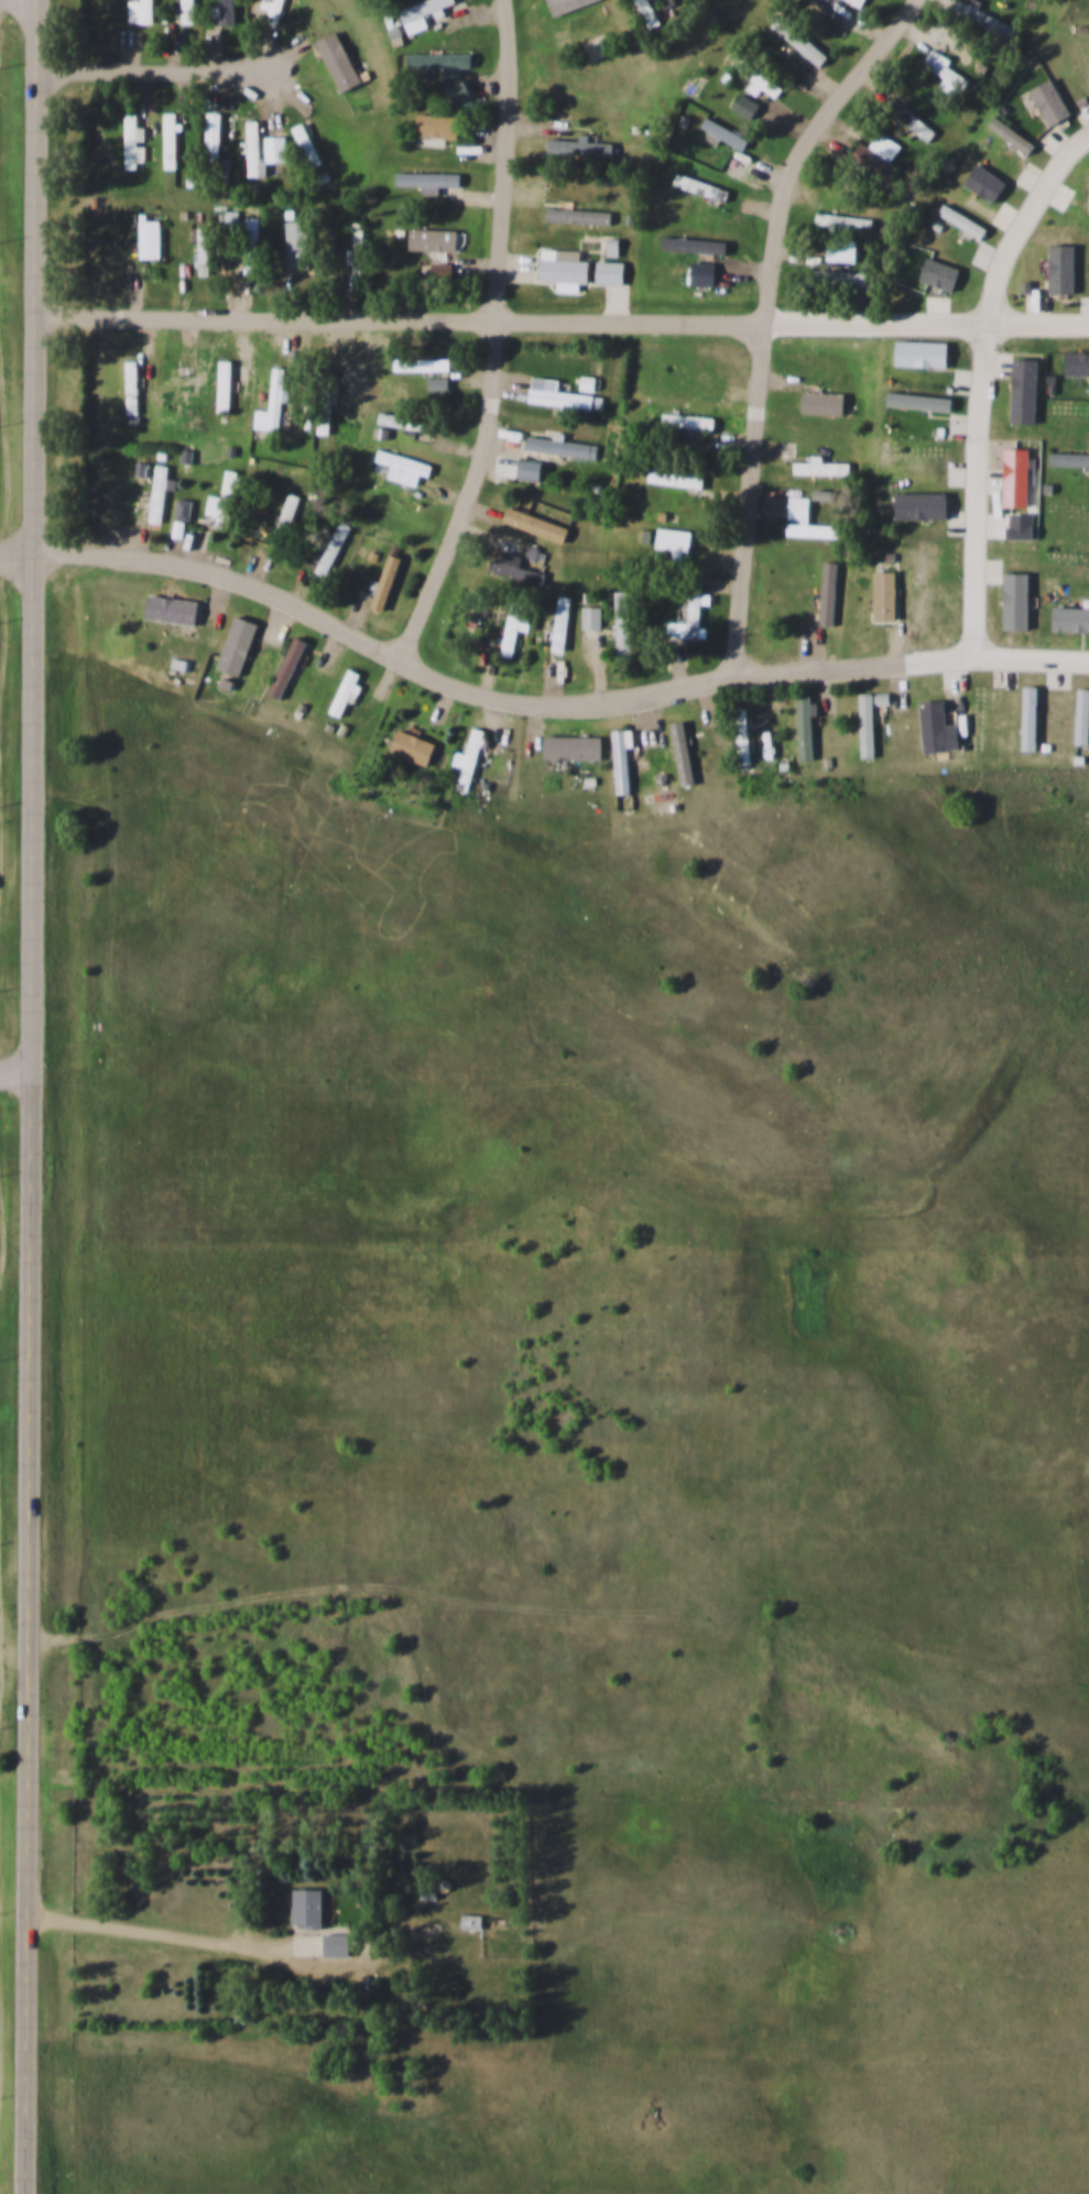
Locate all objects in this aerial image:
building: (859, 2)
building: (568, 4)
building: (142, 11)
building: (188, 11)
building: (226, 11)
building: (274, 11)
building: (423, 12)
building: (647, 13)
building: (987, 20)
building: (801, 41)
building: (443, 59)
building: (340, 61)
building: (946, 69)
road: (145, 72)
building: (758, 77)
building: (914, 121)
building: (439, 125)
building: (211, 132)
building: (726, 132)
building: (170, 141)
building: (132, 142)
building: (308, 144)
building: (254, 148)
building: (582, 148)
building: (276, 149)
building: (879, 157)
building: (429, 178)
building: (704, 187)
building: (580, 216)
building: (845, 220)
building: (152, 239)
building: (436, 239)
building: (252, 244)
building: (696, 244)
building: (358, 248)
building: (300, 249)
building: (204, 251)
building: (565, 266)
building: (443, 270)
building: (612, 273)
building: (705, 273)
road: (37, 276)
building: (840, 276)
road: (771, 316)
road: (403, 317)
road: (929, 317)
road: (500, 338)
building: (420, 363)
road: (968, 368)
building: (694, 376)
building: (436, 384)
building: (588, 384)
building: (176, 385)
building: (227, 386)
building: (133, 388)
building: (562, 395)
building: (277, 397)
building: (825, 402)
building: (326, 403)
building: (689, 421)
building: (407, 422)
building: (564, 447)
building: (406, 467)
building: (823, 468)
building: (533, 470)
building: (677, 478)
building: (159, 494)
building: (228, 499)
building: (807, 522)
building: (675, 539)
building: (715, 539)
building: (333, 550)
road: (18, 554)
building: (515, 569)
building: (389, 582)
building: (830, 593)
building: (887, 596)
building: (174, 610)
building: (694, 613)
building: (593, 618)
building: (564, 622)
building: (625, 623)
building: (515, 643)
building: (239, 645)
road: (994, 652)
building: (288, 667)
road: (458, 681)
building: (347, 694)
building: (870, 722)
building: (806, 728)
building: (744, 736)
building: (415, 747)
building: (574, 747)
building: (475, 749)
building: (683, 753)
building: (623, 761)
road: (17, 1073)
road: (32, 1374)
building: (309, 1907)
building: (473, 1922)
road: (161, 1939)
building: (339, 1945)

